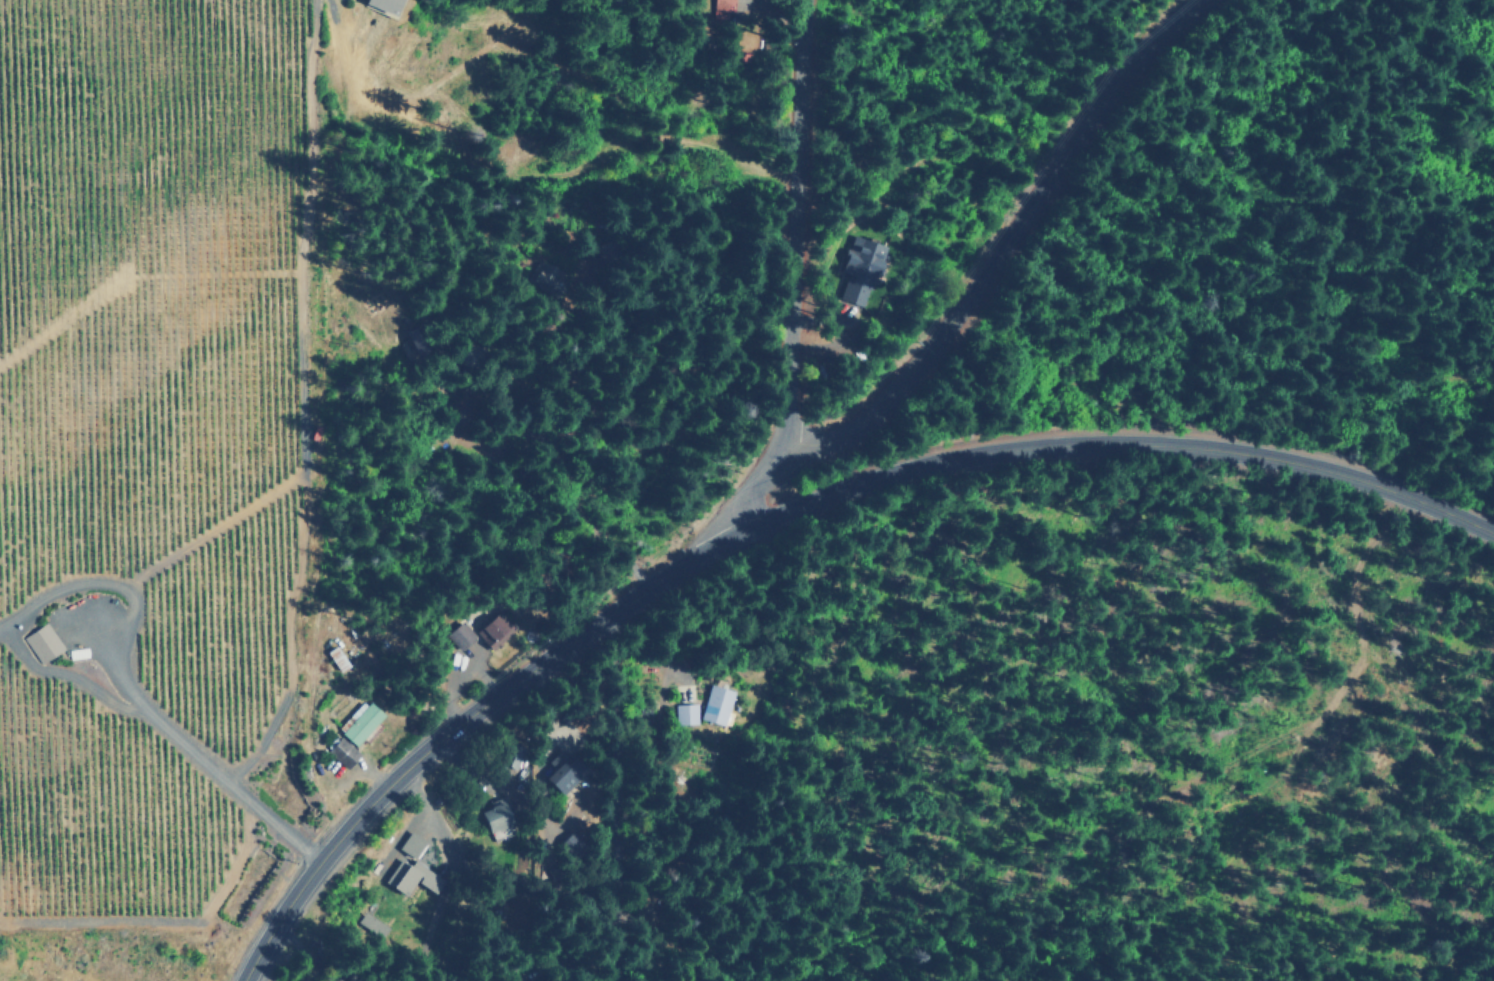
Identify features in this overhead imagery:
building: (377, 5)
building: (721, 9)
road: (1001, 236)
building: (857, 270)
road: (790, 277)
road: (784, 511)
building: (493, 630)
building: (457, 635)
building: (43, 643)
building: (714, 705)
building: (685, 713)
building: (341, 751)
road: (764, 753)
building: (556, 779)
building: (492, 822)
building: (408, 845)
building: (407, 877)
building: (368, 924)

